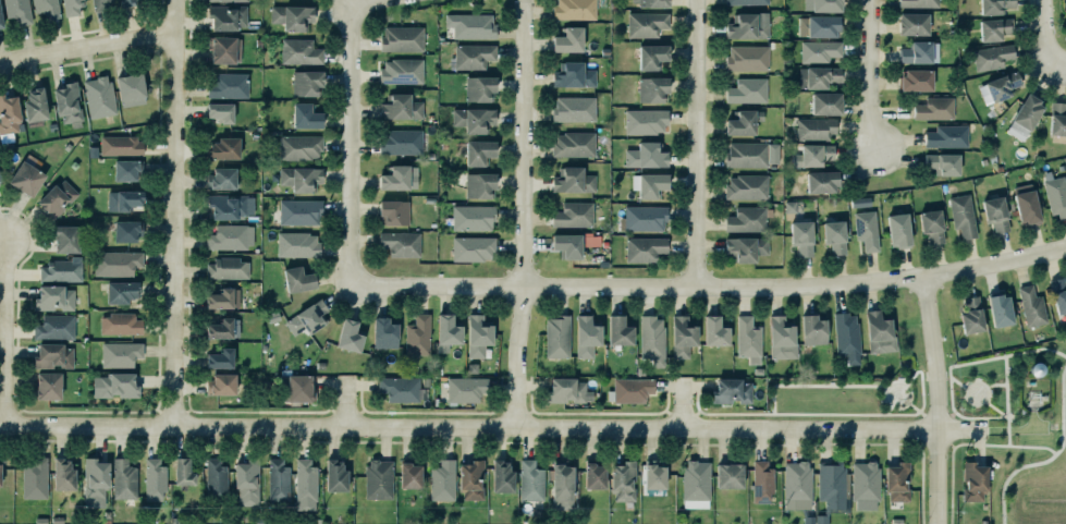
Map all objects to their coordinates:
building: (226, 0)
building: (125, 2)
building: (650, 2)
building: (747, 2)
building: (1065, 2)
road: (377, 3)
building: (918, 3)
building: (97, 4)
building: (820, 4)
building: (995, 5)
building: (45, 7)
building: (72, 7)
building: (574, 10)
building: (17, 11)
building: (290, 15)
building: (228, 17)
building: (0, 21)
building: (644, 23)
building: (910, 23)
building: (470, 25)
building: (746, 25)
building: (819, 26)
building: (994, 28)
road: (1049, 34)
building: (399, 37)
building: (566, 38)
road: (88, 48)
building: (219, 48)
building: (820, 51)
building: (299, 52)
building: (920, 52)
building: (649, 56)
building: (990, 56)
building: (471, 57)
building: (747, 58)
road: (1064, 65)
building: (399, 70)
building: (571, 74)
building: (814, 75)
road: (869, 75)
building: (917, 80)
building: (304, 81)
building: (229, 86)
building: (998, 87)
building: (650, 88)
building: (131, 89)
building: (479, 89)
building: (745, 89)
building: (96, 96)
building: (65, 102)
building: (823, 102)
building: (32, 103)
building: (401, 108)
building: (572, 108)
building: (931, 108)
building: (218, 110)
building: (1025, 110)
building: (8, 113)
building: (306, 117)
building: (471, 118)
building: (1057, 119)
building: (646, 121)
building: (740, 121)
building: (816, 129)
building: (944, 136)
building: (400, 142)
building: (572, 143)
road: (695, 143)
building: (121, 145)
road: (356, 145)
building: (221, 147)
building: (301, 147)
building: (476, 150)
building: (752, 154)
building: (810, 154)
building: (644, 155)
building: (940, 162)
building: (128, 170)
building: (397, 173)
building: (24, 176)
building: (219, 178)
building: (301, 178)
building: (571, 179)
building: (1, 180)
building: (820, 180)
building: (477, 184)
building: (649, 185)
building: (747, 186)
building: (1054, 195)
building: (57, 198)
building: (121, 198)
building: (858, 202)
building: (1026, 205)
building: (231, 206)
building: (792, 207)
building: (391, 210)
building: (296, 211)
road: (175, 212)
road: (523, 214)
building: (571, 214)
building: (995, 214)
building: (473, 217)
building: (644, 218)
building: (963, 218)
building: (747, 219)
building: (929, 224)
building: (865, 230)
building: (898, 230)
building: (127, 231)
building: (834, 236)
building: (64, 237)
building: (231, 237)
building: (801, 237)
building: (397, 242)
building: (295, 244)
building: (567, 245)
building: (469, 247)
building: (744, 247)
building: (645, 248)
building: (117, 263)
building: (228, 269)
building: (61, 271)
building: (295, 278)
road: (712, 287)
building: (119, 290)
building: (1057, 293)
building: (51, 297)
building: (220, 298)
building: (1029, 305)
building: (1001, 310)
building: (969, 314)
building: (304, 317)
building: (118, 322)
building: (52, 326)
building: (218, 328)
building: (810, 329)
building: (617, 330)
building: (712, 330)
building: (877, 331)
road: (5, 332)
building: (382, 332)
building: (446, 332)
building: (844, 333)
building: (415, 334)
building: (475, 334)
building: (346, 336)
building: (554, 336)
building: (584, 336)
building: (679, 336)
building: (779, 338)
building: (649, 339)
building: (746, 339)
road: (1036, 350)
building: (118, 353)
building: (53, 356)
building: (218, 357)
road: (972, 363)
road: (917, 370)
road: (1006, 370)
building: (1039, 370)
storage tank: (1039, 370)
park: (860, 381)
road: (975, 381)
building: (219, 382)
road: (957, 382)
road: (905, 383)
road: (907, 383)
building: (45, 385)
road: (828, 385)
road: (996, 385)
building: (114, 386)
building: (293, 387)
building: (400, 388)
building: (465, 389)
building: (628, 389)
building: (730, 390)
road: (891, 390)
building: (568, 391)
road: (920, 392)
road: (989, 393)
building: (309, 394)
road: (951, 395)
road: (772, 399)
road: (938, 399)
road: (1007, 401)
road: (907, 402)
road: (346, 404)
road: (891, 404)
road: (683, 405)
road: (997, 411)
road: (1063, 411)
road: (696, 412)
road: (920, 412)
road: (734, 413)
road: (828, 413)
road: (902, 413)
road: (938, 415)
road: (953, 415)
road: (980, 418)
road: (493, 427)
park: (1018, 427)
road: (1008, 432)
road: (997, 446)
road: (1032, 447)
building: (181, 471)
building: (63, 475)
building: (332, 475)
building: (407, 475)
building: (592, 475)
building: (652, 475)
road: (1010, 475)
building: (499, 476)
building: (728, 476)
building: (151, 477)
building: (34, 478)
building: (216, 478)
building: (377, 478)
building: (468, 478)
building: (124, 479)
building: (275, 479)
building: (528, 479)
building: (621, 479)
building: (93, 480)
building: (440, 480)
building: (760, 480)
building: (895, 480)
building: (970, 480)
building: (247, 483)
building: (795, 483)
building: (303, 484)
building: (696, 484)
building: (831, 484)
building: (562, 485)
building: (866, 486)
building: (820, 520)

